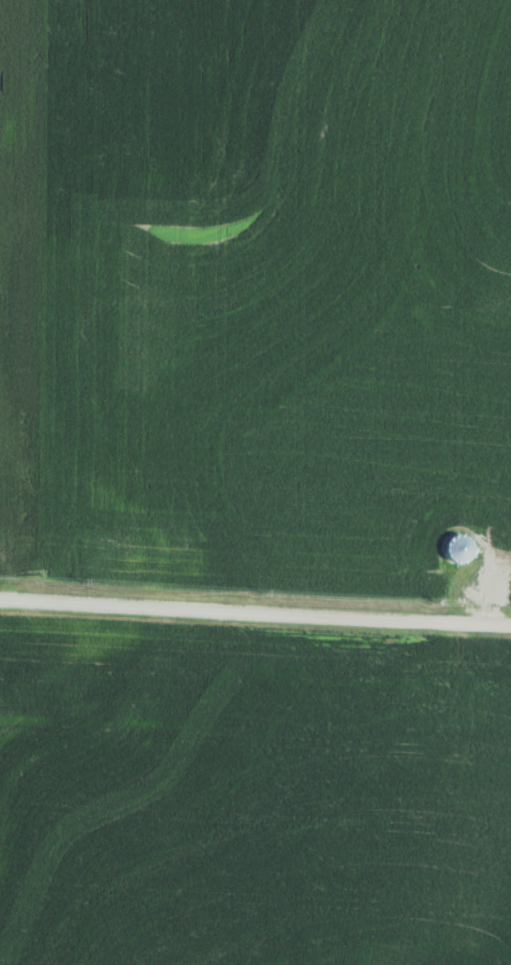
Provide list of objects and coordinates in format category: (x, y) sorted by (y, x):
road: (255, 610)

